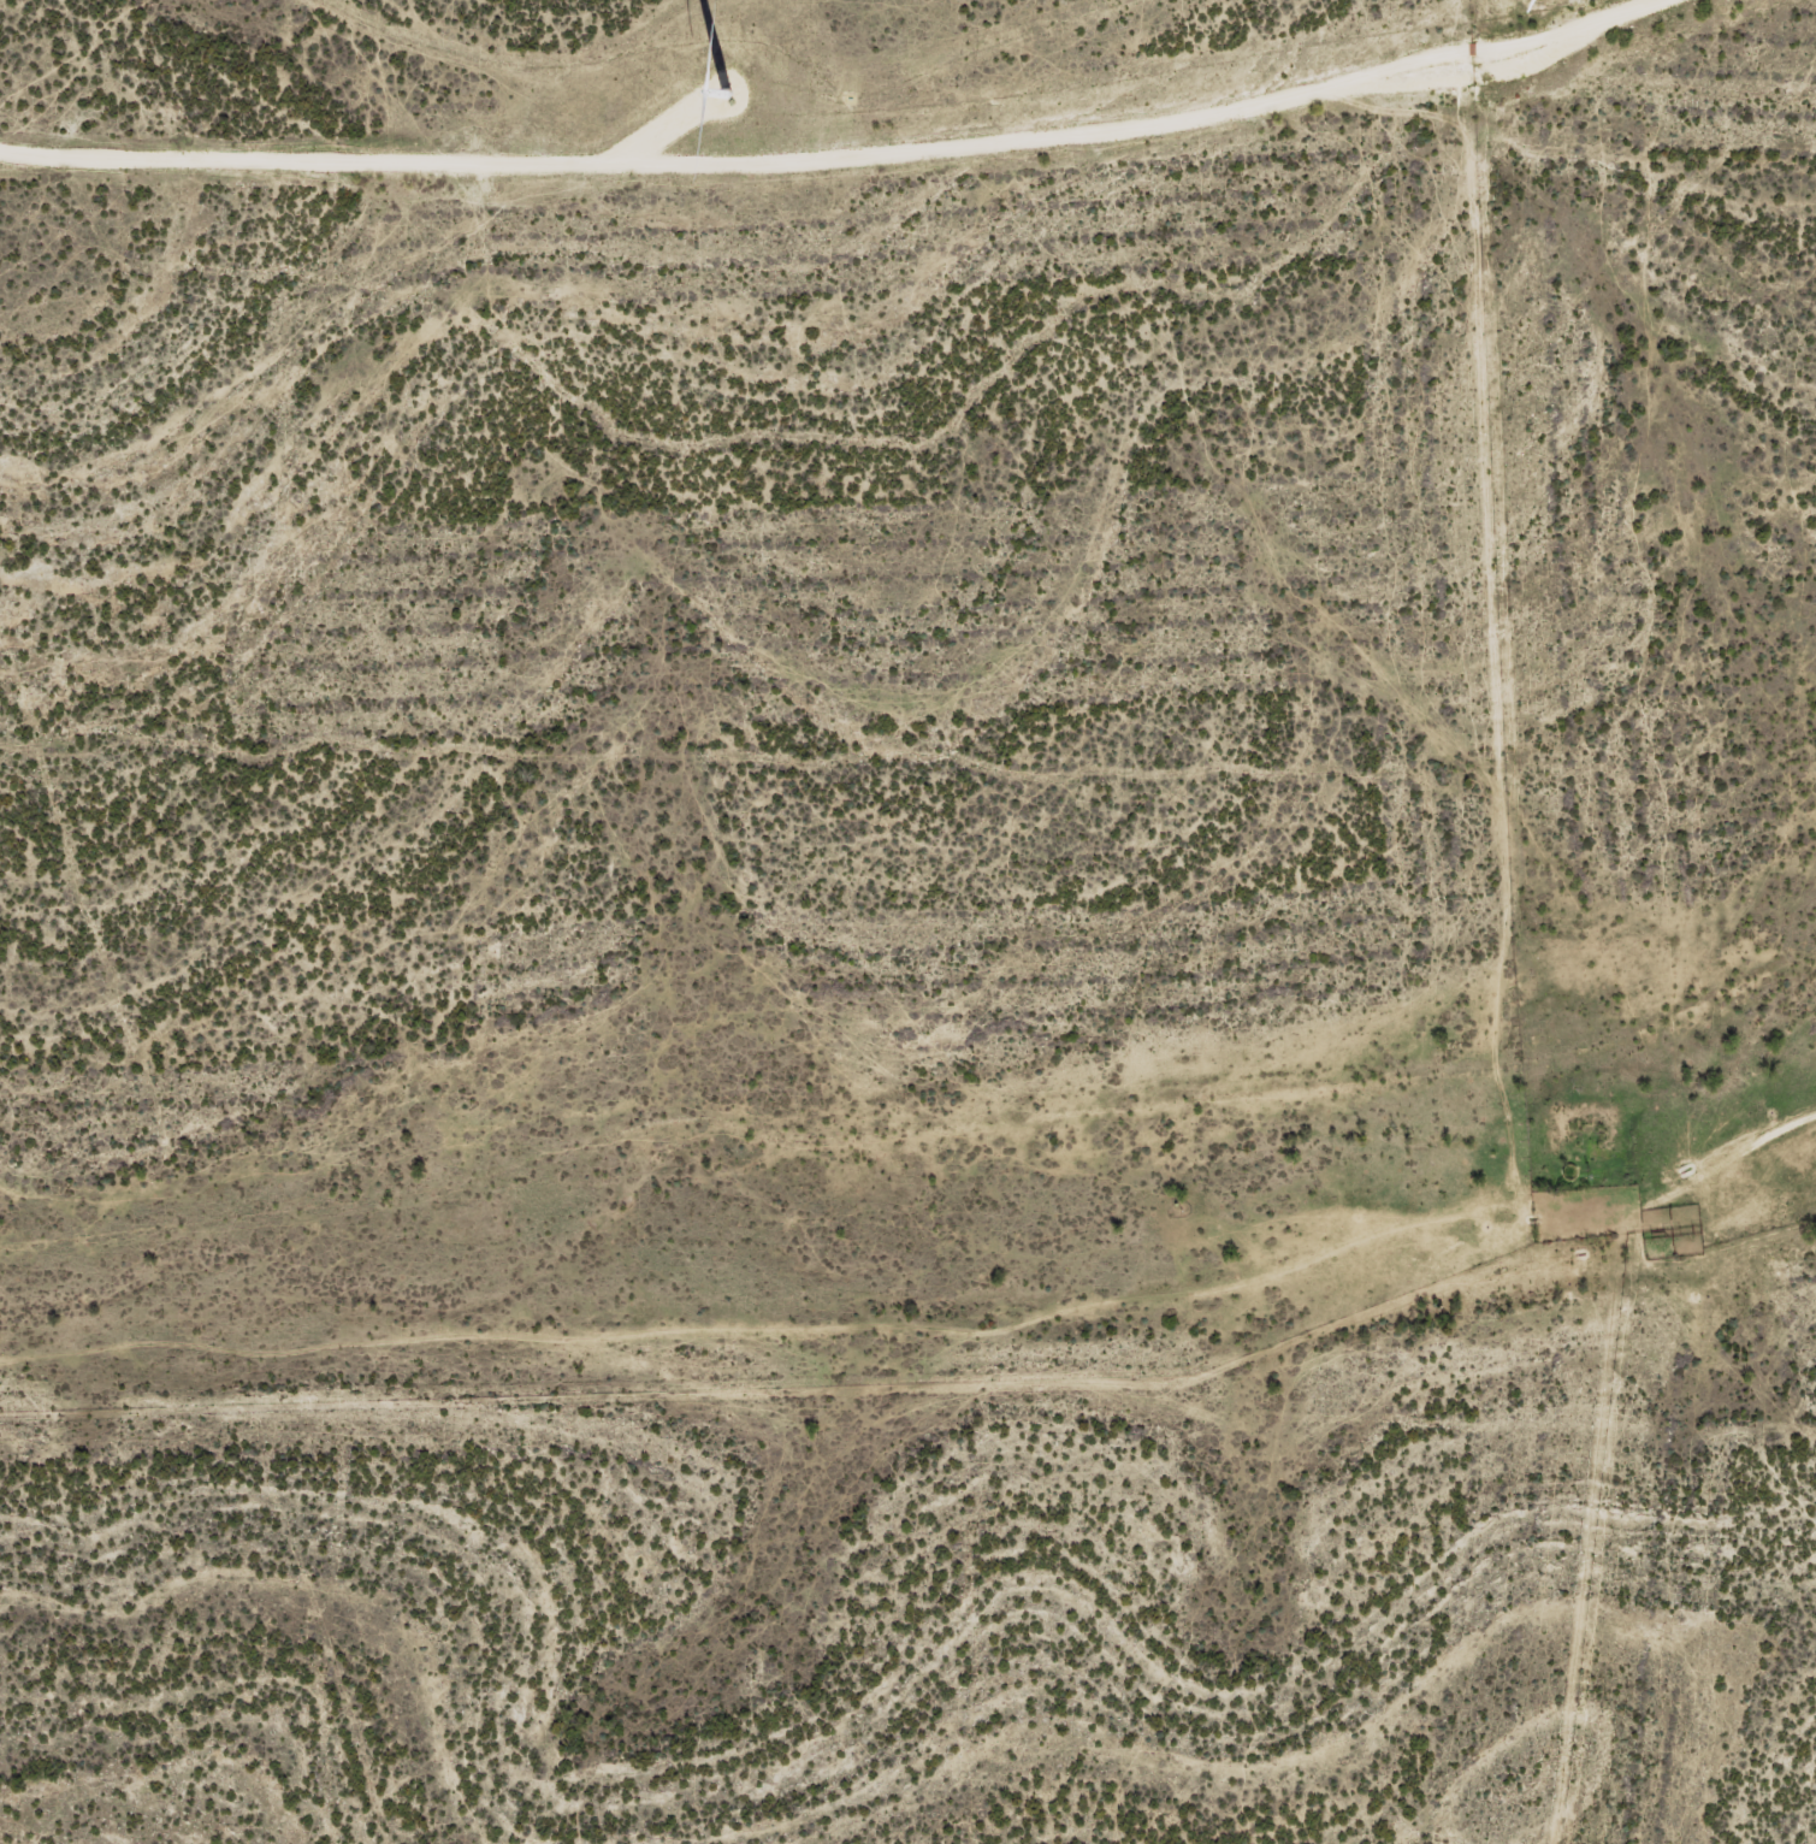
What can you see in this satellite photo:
wind turbine: (710, 100)
road: (845, 148)
road: (1797, 1135)

